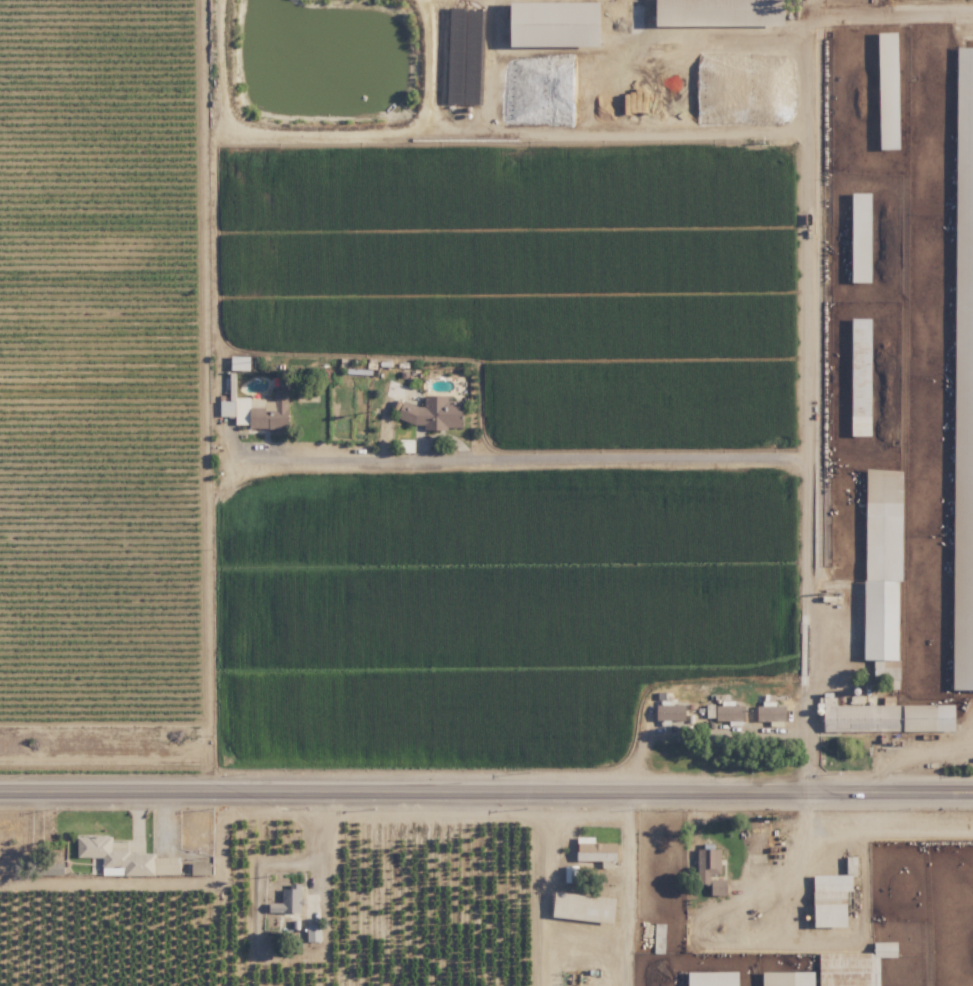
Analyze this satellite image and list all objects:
road: (882, 13)
building: (965, 68)
building: (891, 85)
building: (863, 237)
building: (863, 377)
crop: (589, 390)
building: (259, 410)
building: (434, 412)
road: (807, 412)
road: (531, 452)
building: (885, 569)
building: (771, 709)
building: (725, 711)
building: (672, 712)
building: (888, 716)
road: (707, 739)
road: (930, 757)
road: (486, 783)
road: (891, 837)
road: (316, 845)
building: (596, 849)
building: (125, 857)
building: (202, 867)
building: (711, 868)
road: (802, 870)
building: (570, 872)
crop: (904, 885)
building: (289, 899)
building: (833, 899)
crop: (419, 901)
building: (314, 932)
crop: (102, 933)
road: (584, 938)
building: (854, 965)
building: (714, 978)
building: (790, 978)

